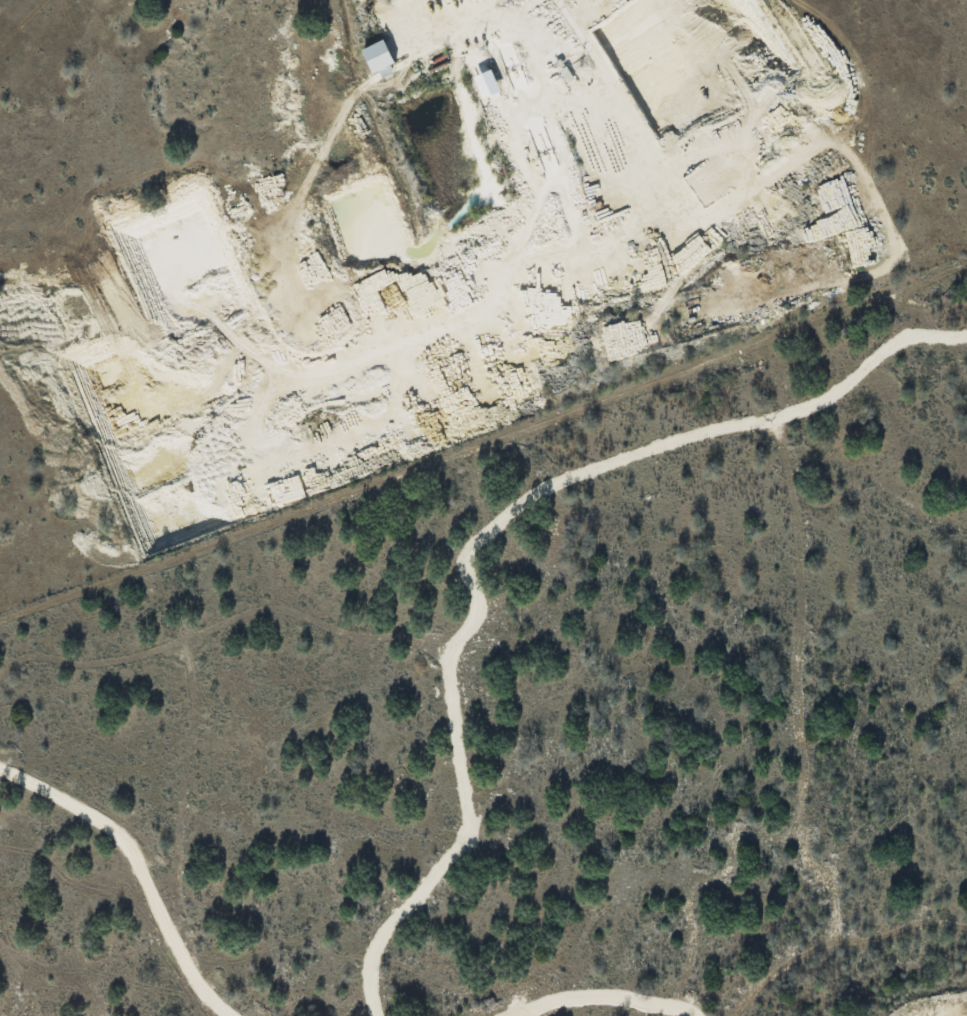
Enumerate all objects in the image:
building: (376, 51)
quarry: (471, 251)
road: (135, 872)

